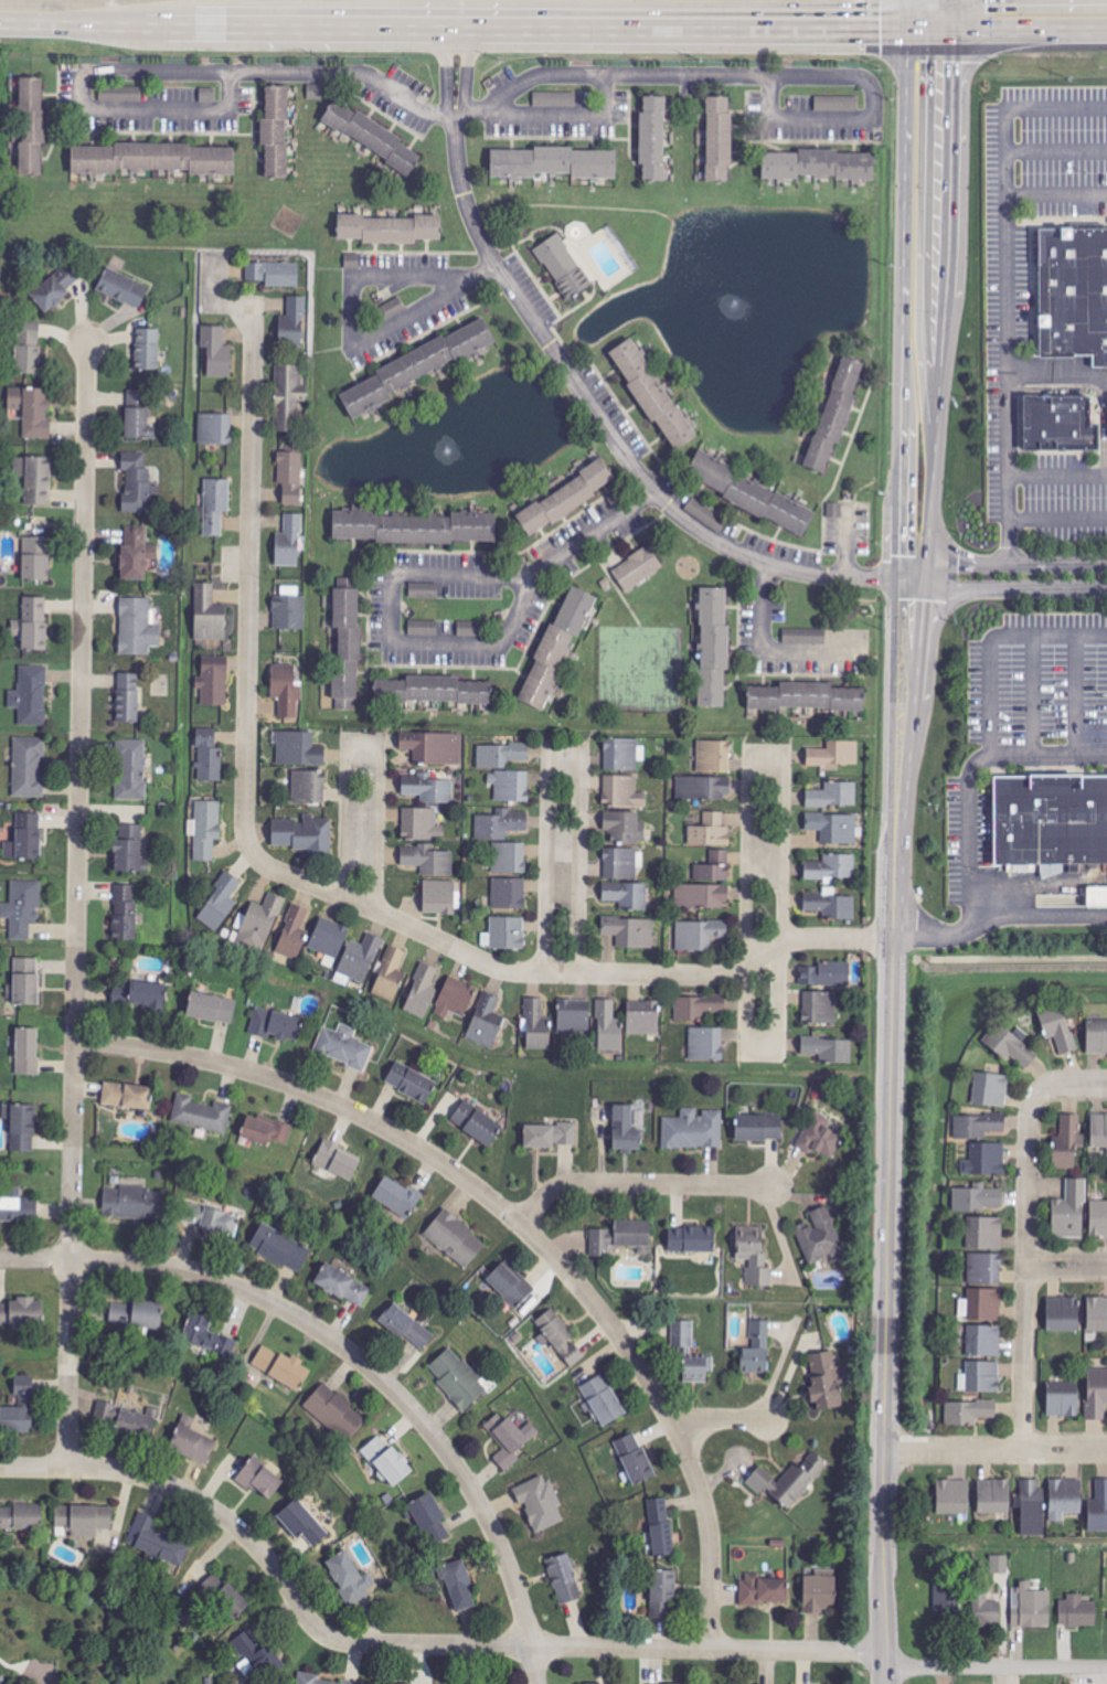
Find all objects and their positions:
road: (949, 17)
road: (473, 30)
road: (1028, 32)
traffic signals: (883, 33)
traffic signals: (949, 64)
road: (85, 73)
road: (869, 83)
building: (121, 94)
road: (497, 99)
building: (555, 99)
building: (31, 127)
building: (276, 131)
building: (372, 136)
building: (653, 138)
building: (719, 139)
road: (1055, 150)
building: (152, 159)
building: (553, 163)
building: (819, 164)
road: (1055, 194)
building: (390, 228)
road: (1004, 264)
building: (563, 266)
building: (274, 273)
road: (486, 273)
road: (377, 277)
building: (123, 288)
building: (54, 289)
building: (1074, 292)
parking lot: (1035, 294)
building: (392, 309)
road: (419, 310)
building: (292, 323)
building: (148, 349)
building: (28, 352)
building: (216, 352)
building: (417, 366)
road: (582, 391)
building: (653, 394)
building: (288, 396)
road: (904, 409)
building: (32, 411)
building: (834, 415)
building: (138, 416)
building: (1060, 424)
road: (935, 428)
building: (215, 429)
road: (1057, 473)
building: (290, 476)
building: (35, 479)
building: (136, 481)
building: (754, 494)
building: (566, 498)
building: (215, 505)
building: (703, 512)
road: (1058, 519)
building: (414, 527)
road: (595, 533)
road: (249, 536)
building: (289, 542)
road: (1010, 542)
building: (136, 554)
building: (35, 558)
road: (1015, 565)
building: (638, 569)
road: (915, 579)
road: (1015, 588)
building: (424, 590)
building: (289, 612)
building: (209, 615)
building: (32, 625)
building: (137, 627)
building: (423, 628)
building: (468, 628)
road: (992, 639)
road: (394, 641)
building: (557, 646)
building: (713, 647)
building: (347, 648)
road: (771, 650)
building: (213, 681)
building: (286, 690)
building: (433, 691)
road: (1076, 693)
road: (1034, 694)
building: (30, 695)
building: (127, 697)
building: (806, 697)
building: (299, 749)
building: (435, 749)
building: (622, 754)
building: (500, 755)
building: (834, 755)
building: (714, 757)
building: (209, 760)
building: (29, 767)
building: (132, 769)
building: (510, 786)
building: (308, 787)
building: (428, 789)
building: (703, 789)
building: (622, 792)
building: (833, 796)
road: (971, 816)
road: (362, 819)
building: (501, 824)
building: (421, 825)
building: (624, 828)
building: (833, 828)
building: (206, 829)
building: (1056, 829)
building: (711, 831)
building: (304, 834)
building: (25, 839)
building: (128, 850)
road: (562, 857)
building: (510, 859)
building: (428, 861)
building: (622, 863)
building: (831, 868)
building: (707, 884)
building: (509, 894)
building: (627, 896)
building: (440, 898)
building: (220, 903)
road: (764, 903)
building: (1101, 903)
road: (77, 905)
building: (831, 905)
building: (22, 908)
building: (125, 913)
road: (1036, 914)
building: (260, 923)
building: (294, 931)
building: (630, 932)
building: (504, 934)
building: (699, 935)
building: (329, 939)
building: (360, 958)
building: (390, 972)
road: (560, 973)
building: (826, 974)
building: (25, 982)
building: (422, 992)
building: (147, 995)
building: (455, 998)
building: (698, 1008)
building: (819, 1008)
building: (211, 1009)
building: (574, 1016)
building: (643, 1017)
building: (486, 1022)
building: (276, 1026)
building: (536, 1026)
building: (608, 1027)
building: (1058, 1030)
building: (1096, 1037)
building: (706, 1044)
building: (1009, 1046)
building: (344, 1047)
building: (829, 1048)
building: (28, 1052)
building: (411, 1083)
road: (1068, 1084)
building: (990, 1090)
building: (127, 1096)
building: (201, 1115)
building: (476, 1123)
building: (978, 1126)
building: (21, 1127)
building: (759, 1129)
building: (625, 1130)
building: (693, 1130)
building: (266, 1131)
building: (1099, 1131)
building: (549, 1136)
building: (819, 1137)
building: (1068, 1142)
building: (988, 1160)
building: (337, 1161)
road: (637, 1184)
building: (397, 1197)
building: (978, 1198)
building: (132, 1203)
building: (18, 1206)
building: (1069, 1212)
building: (1098, 1218)
building: (213, 1221)
road: (518, 1222)
building: (984, 1234)
building: (820, 1237)
building: (620, 1238)
building: (455, 1239)
building: (691, 1240)
building: (280, 1248)
road: (886, 1251)
building: (753, 1256)
road: (1066, 1265)
building: (986, 1270)
road: (1024, 1272)
building: (343, 1286)
building: (510, 1287)
building: (981, 1305)
building: (22, 1313)
building: (1063, 1314)
building: (1097, 1314)
building: (136, 1315)
building: (405, 1326)
building: (560, 1336)
building: (209, 1337)
building: (984, 1342)
building: (757, 1349)
building: (690, 1354)
road: (356, 1358)
building: (283, 1368)
building: (458, 1378)
building: (826, 1383)
building: (1097, 1395)
building: (603, 1400)
building: (1063, 1400)
building: (19, 1413)
building: (336, 1413)
building: (969, 1413)
building: (113, 1414)
road: (720, 1419)
building: (137, 1426)
building: (194, 1439)
building: (510, 1440)
road: (994, 1450)
building: (635, 1460)
building: (387, 1462)
building: (260, 1480)
building: (790, 1481)
road: (187, 1495)
building: (994, 1495)
building: (952, 1496)
building: (1065, 1498)
building: (540, 1503)
building: (1032, 1506)
building: (1098, 1507)
building: (21, 1517)
building: (430, 1520)
building: (83, 1521)
building: (304, 1525)
building: (661, 1528)
building: (156, 1542)
building: (999, 1564)
building: (351, 1577)
building: (564, 1578)
building: (459, 1585)
building: (763, 1589)
building: (662, 1592)
building: (819, 1592)
building: (231, 1600)
building: (1031, 1606)
building: (984, 1610)
building: (1077, 1611)
road: (600, 1648)
road: (996, 1669)
building: (2, 1680)

